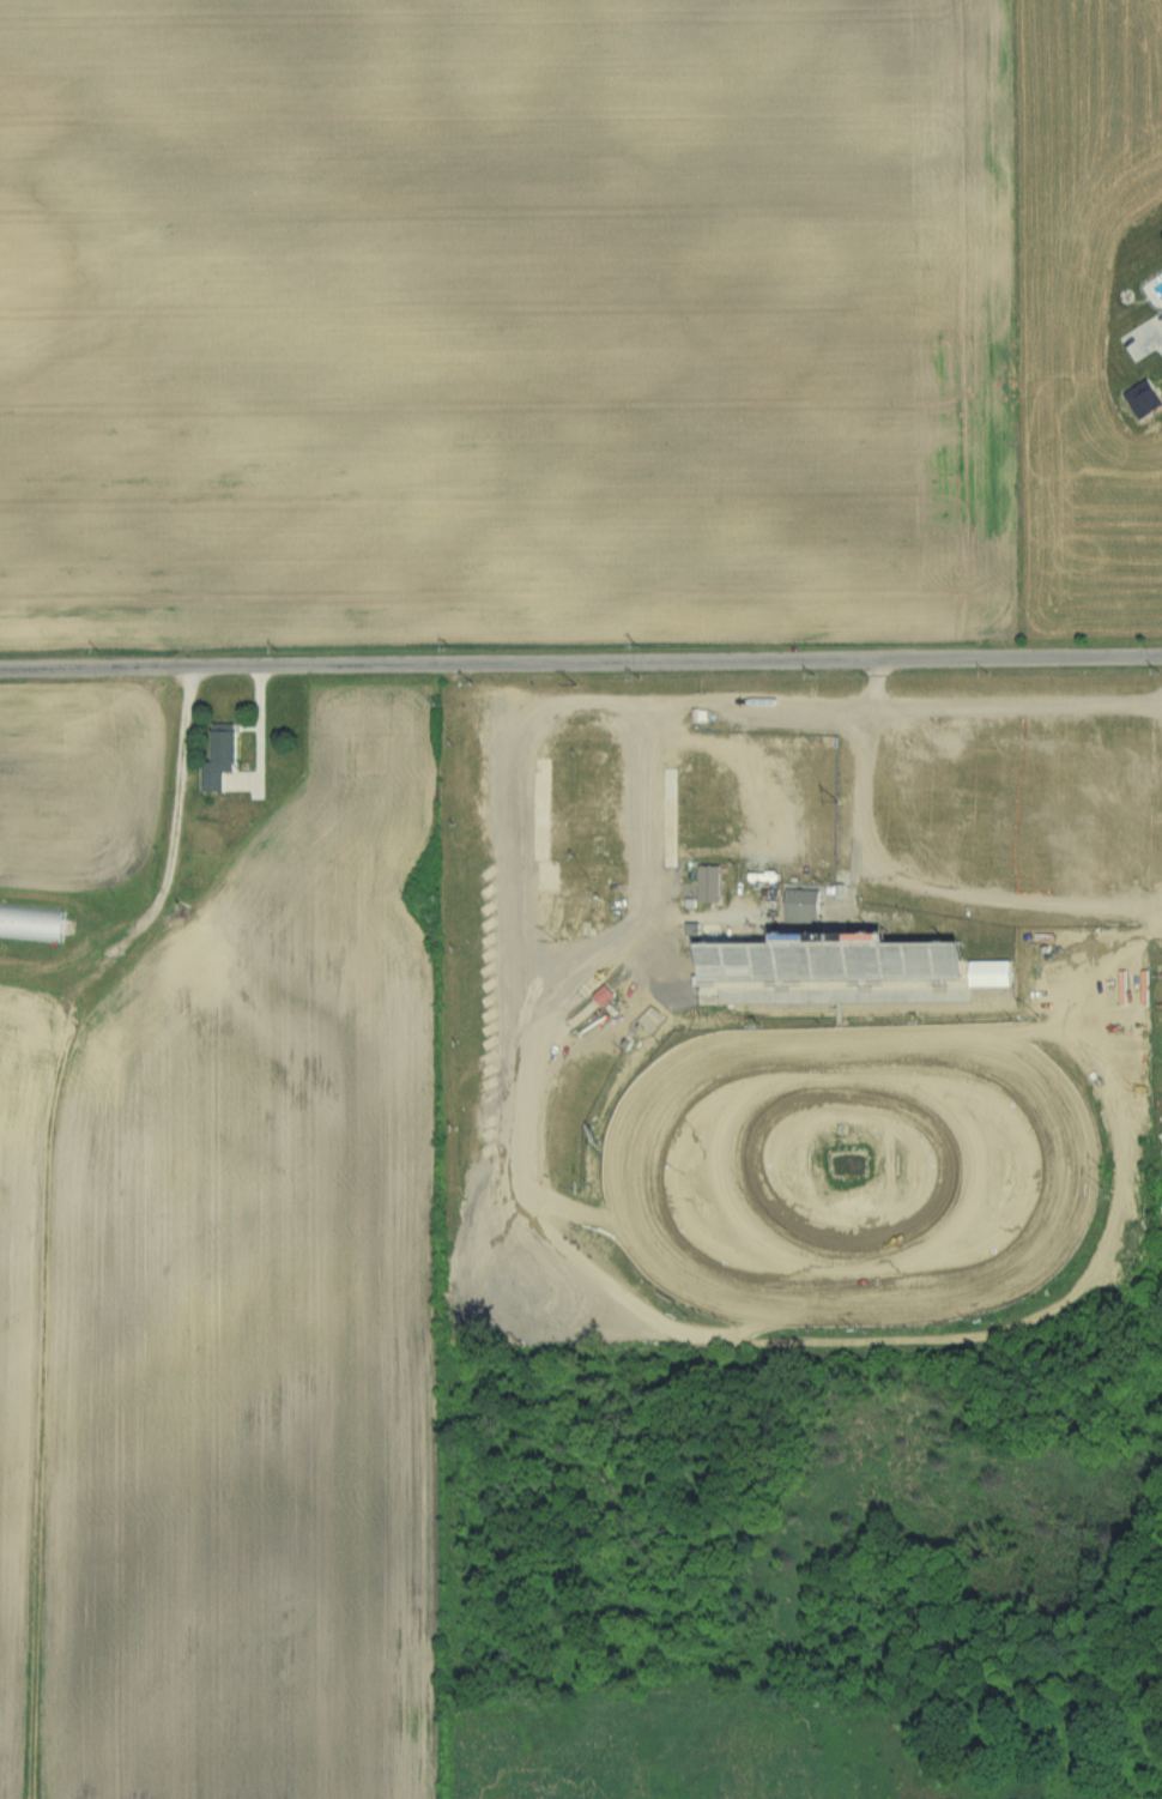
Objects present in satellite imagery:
crop: (507, 325)
road: (1161, 346)
road: (581, 663)
building: (229, 747)
road: (175, 804)
building: (206, 868)
building: (712, 885)
road: (916, 889)
building: (793, 913)
building: (5, 920)
building: (999, 974)

